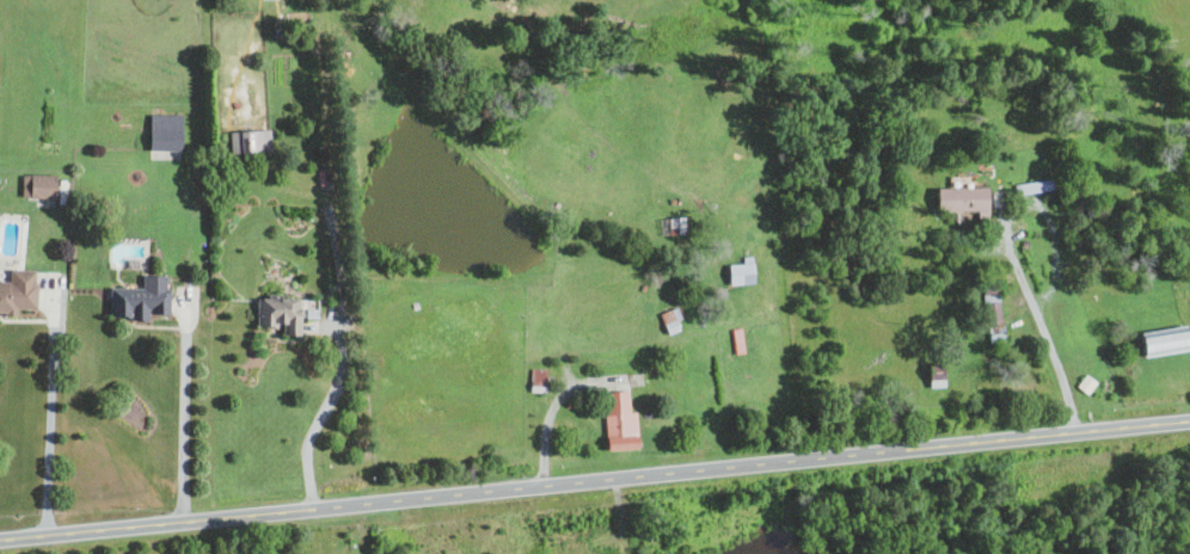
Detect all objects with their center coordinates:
building: (162, 131)
building: (247, 140)
building: (36, 185)
building: (962, 199)
building: (738, 271)
building: (16, 290)
building: (137, 298)
building: (276, 313)
building: (990, 313)
building: (668, 319)
road: (1041, 326)
building: (1161, 340)
building: (933, 375)
building: (1085, 383)
road: (184, 418)
road: (319, 418)
building: (618, 421)
road: (49, 425)
road: (546, 429)
road: (594, 481)

